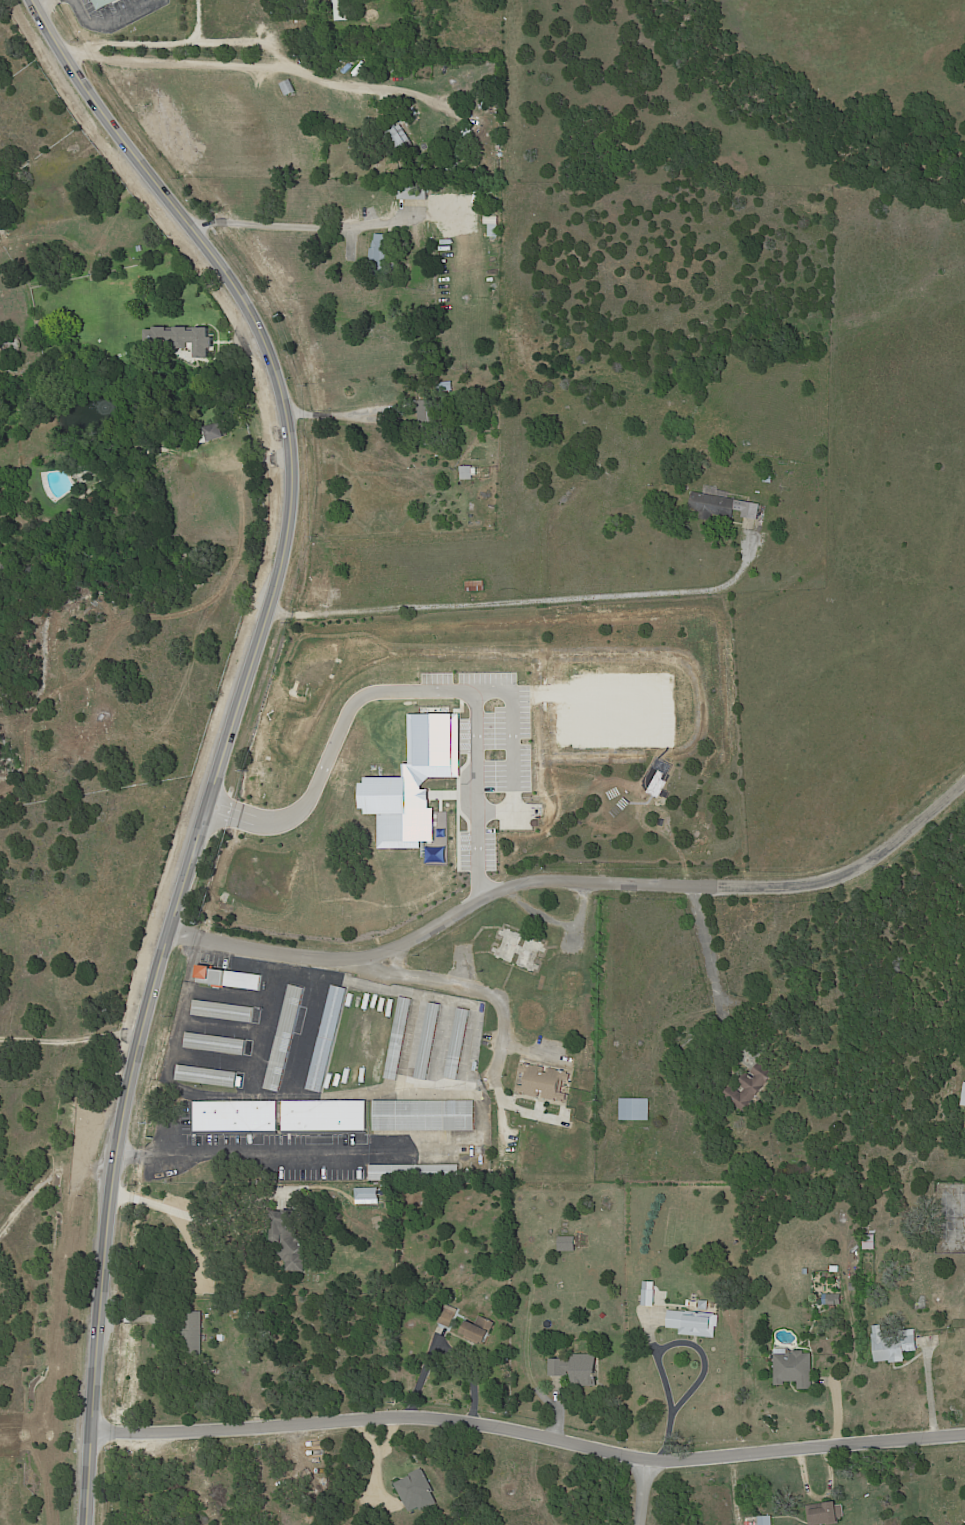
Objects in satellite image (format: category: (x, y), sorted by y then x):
building: (107, 3)
building: (347, 10)
building: (286, 28)
road: (243, 64)
building: (290, 88)
building: (484, 105)
building: (400, 133)
building: (502, 147)
building: (458, 163)
building: (414, 192)
building: (496, 226)
road: (265, 227)
building: (142, 249)
building: (385, 250)
building: (182, 339)
building: (12, 342)
building: (444, 387)
road: (341, 410)
building: (430, 413)
building: (218, 432)
building: (466, 472)
building: (768, 478)
building: (722, 506)
building: (474, 585)
road: (530, 598)
road: (448, 689)
road: (232, 730)
road: (483, 750)
road: (575, 878)
road: (712, 958)
building: (228, 979)
road: (473, 984)
building: (224, 1011)
building: (286, 1037)
building: (400, 1037)
building: (328, 1038)
road: (70, 1040)
building: (429, 1040)
building: (459, 1043)
building: (216, 1044)
building: (207, 1076)
building: (546, 1081)
building: (749, 1088)
building: (963, 1097)
building: (633, 1110)
building: (239, 1115)
building: (328, 1115)
building: (425, 1115)
road: (295, 1153)
building: (414, 1171)
road: (186, 1213)
building: (292, 1238)
building: (868, 1243)
building: (569, 1245)
building: (834, 1270)
building: (805, 1272)
building: (853, 1287)
building: (647, 1295)
building: (831, 1300)
building: (703, 1306)
building: (449, 1315)
building: (692, 1324)
building: (480, 1328)
building: (195, 1333)
road: (663, 1345)
building: (892, 1345)
building: (578, 1369)
building: (792, 1370)
road: (931, 1386)
road: (530, 1430)
road: (638, 1490)
building: (824, 1513)
building: (764, 1520)

